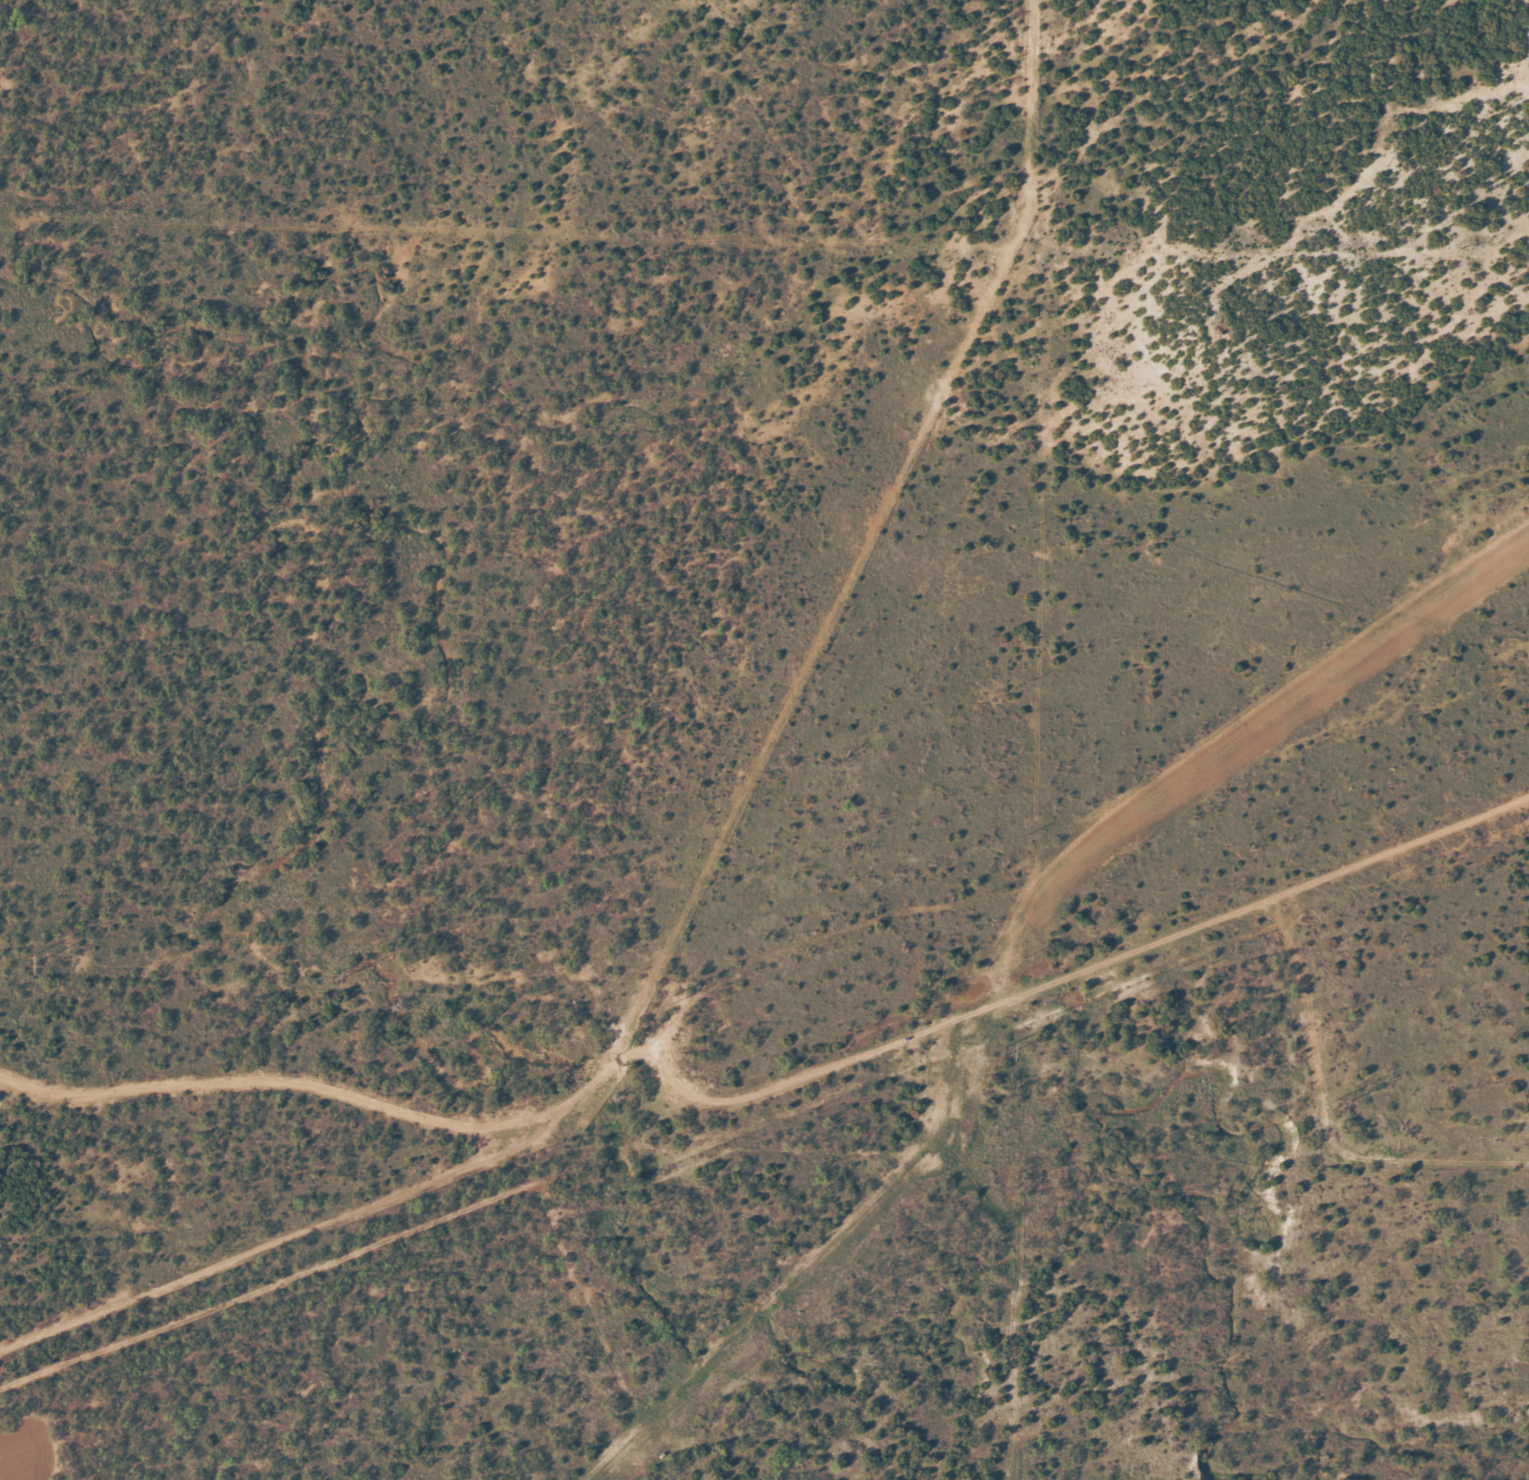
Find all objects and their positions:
power tower: (28, 960)
road: (826, 968)
power tower: (331, 978)
power tower: (672, 999)
power tower: (1002, 1051)
power tower: (1333, 1105)

